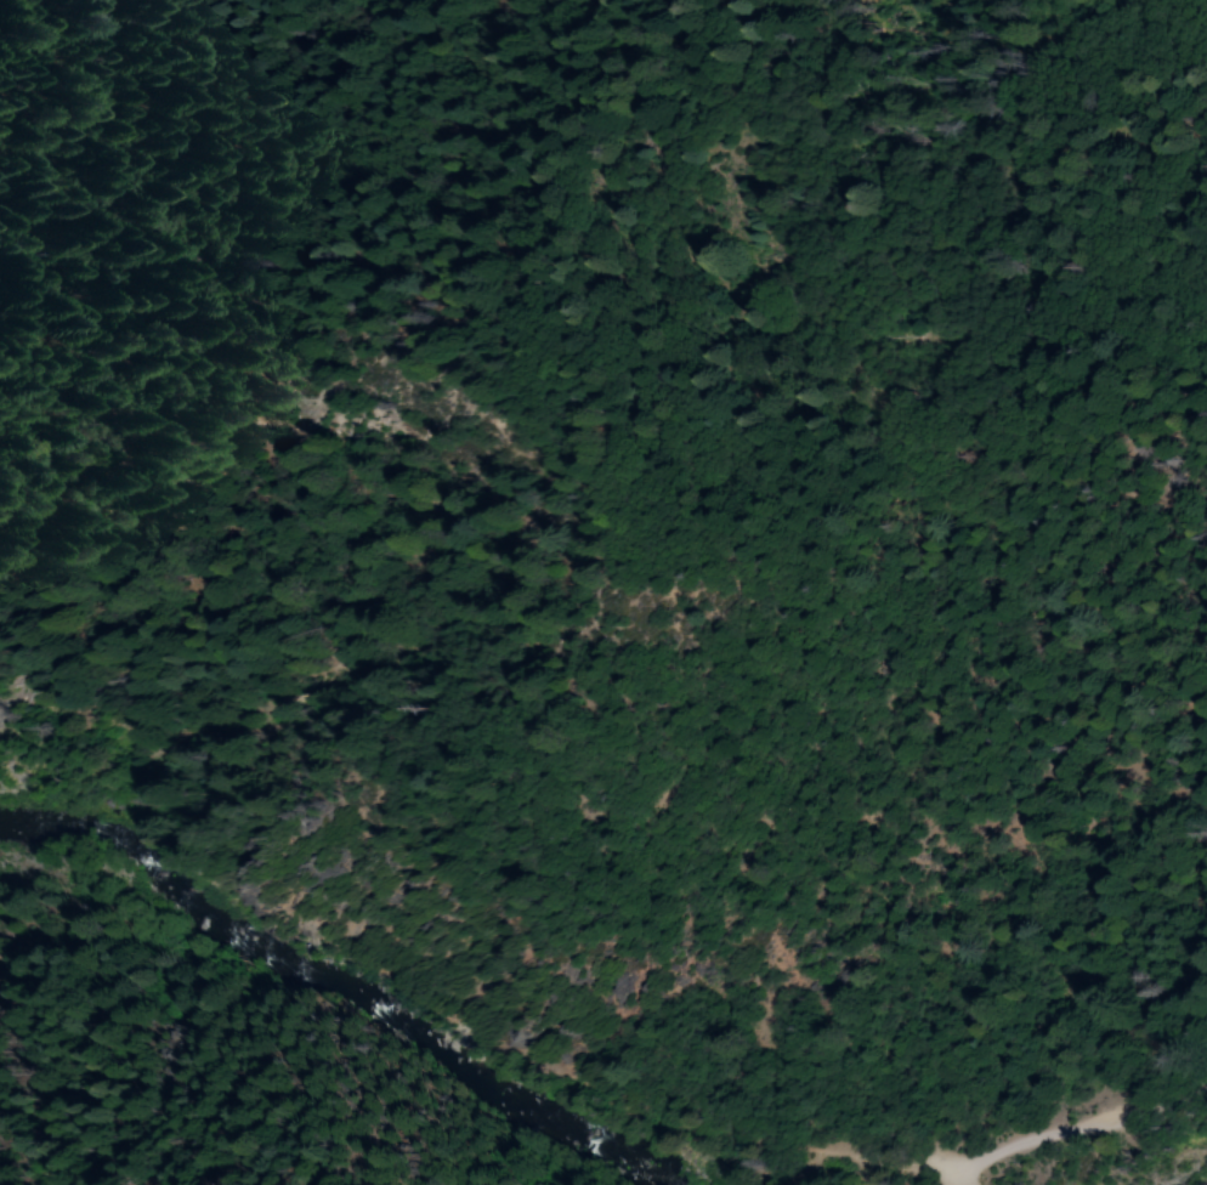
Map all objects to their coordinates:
river: (73, 816)
river: (372, 1030)
road: (610, 1110)
road: (1072, 1130)

